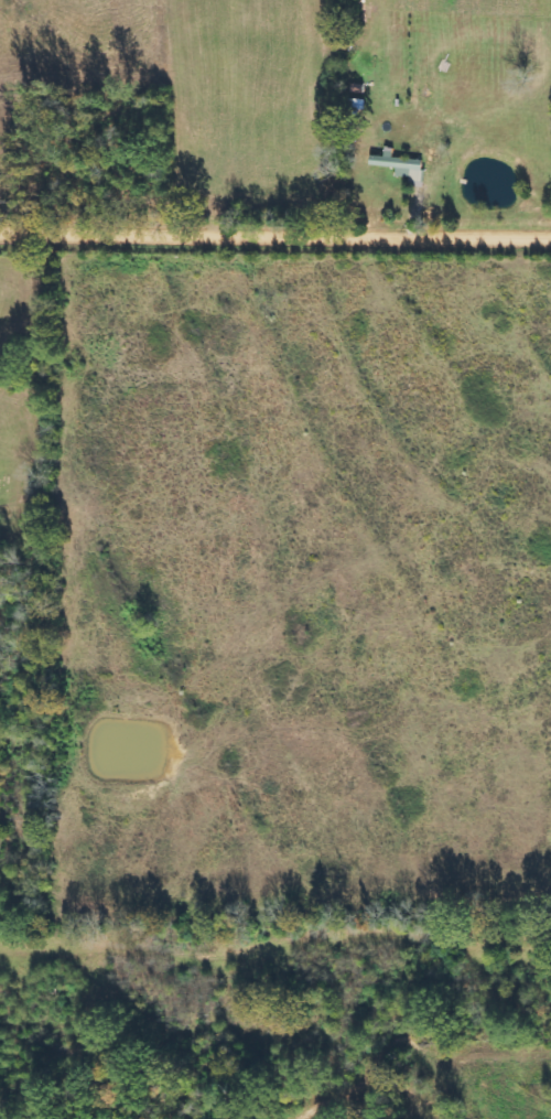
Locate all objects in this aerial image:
building: (401, 166)
road: (275, 237)

